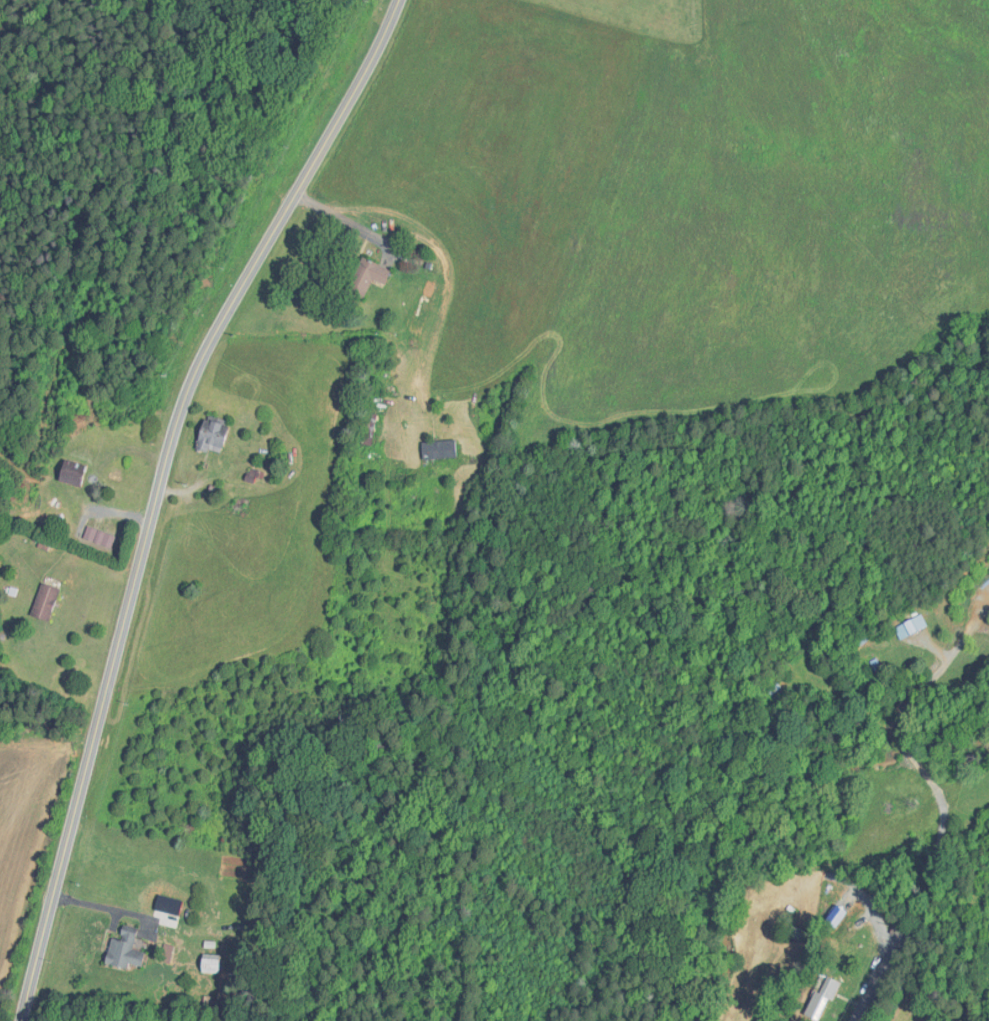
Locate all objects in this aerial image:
building: (363, 279)
building: (208, 436)
building: (436, 448)
building: (68, 474)
road: (157, 489)
building: (42, 601)
building: (774, 692)
road: (929, 780)
building: (835, 910)
building: (120, 949)
building: (208, 963)
road: (878, 984)
building: (819, 999)

